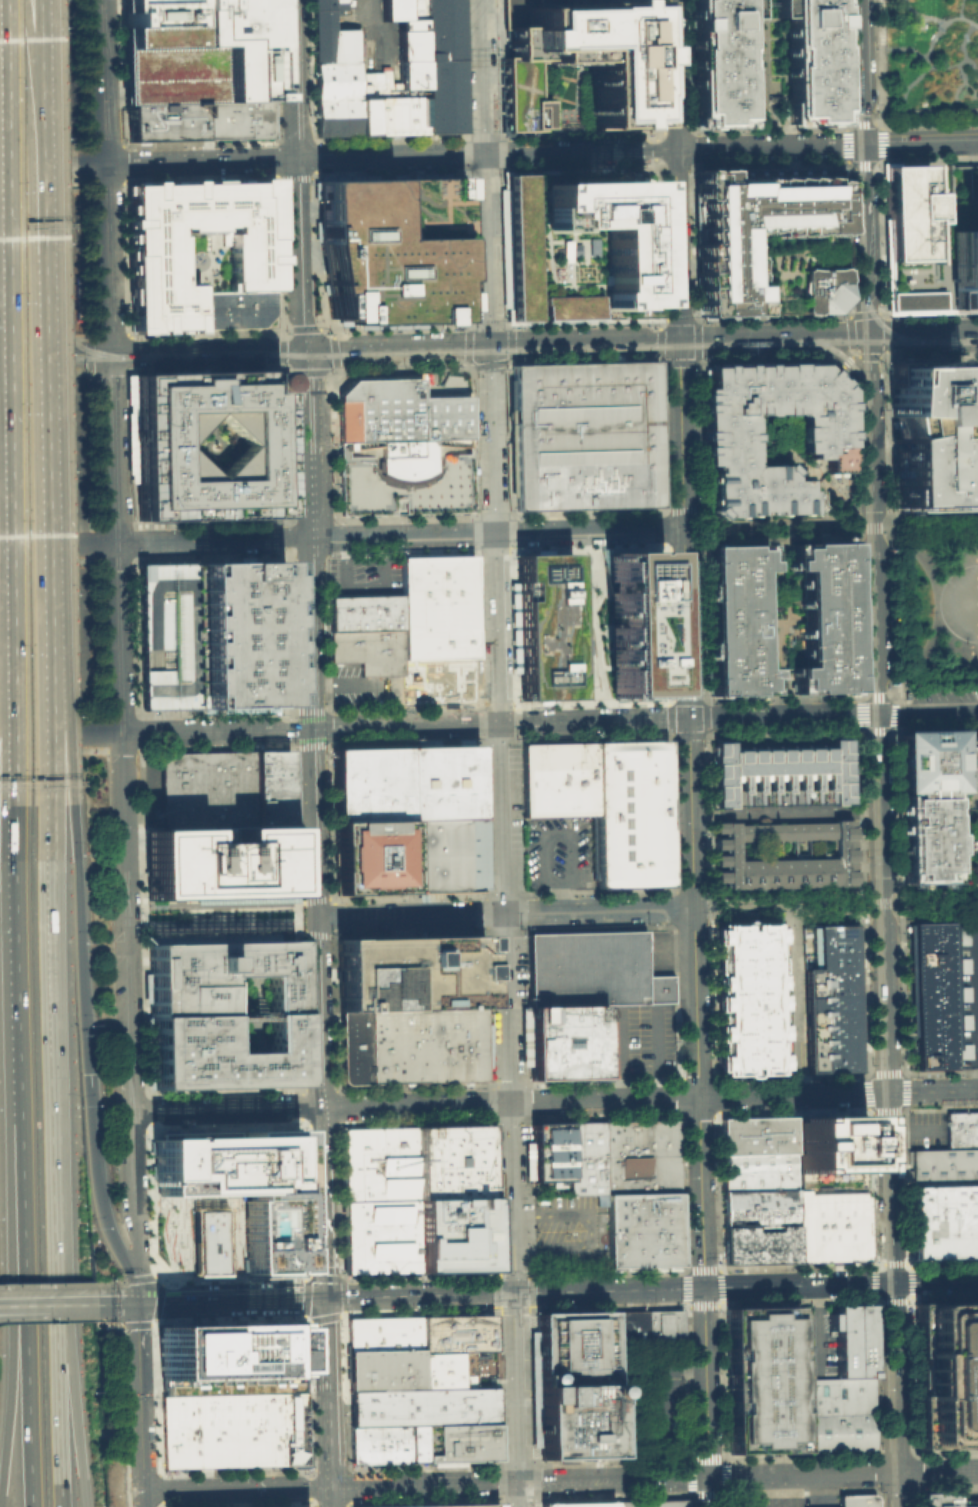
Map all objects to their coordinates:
building: (337, 0)
road: (961, 8)
building: (393, 9)
building: (412, 9)
road: (921, 15)
fountain: (921, 24)
building: (323, 30)
building: (345, 44)
road: (869, 48)
road: (904, 48)
road: (928, 50)
building: (195, 51)
road: (764, 54)
railway: (856, 56)
building: (410, 58)
road: (963, 59)
building: (811, 60)
building: (719, 62)
road: (28, 63)
road: (37, 63)
building: (575, 63)
road: (843, 63)
park: (926, 64)
road: (689, 65)
road: (99, 81)
building: (424, 82)
road: (961, 82)
building: (377, 83)
railway: (846, 86)
building: (336, 98)
road: (850, 103)
road: (773, 109)
road: (891, 115)
building: (234, 119)
road: (764, 120)
road: (863, 121)
road: (929, 121)
building: (162, 122)
road: (768, 129)
road: (672, 131)
road: (918, 132)
road: (311, 139)
road: (881, 142)
road: (845, 145)
road: (768, 146)
road: (691, 148)
road: (655, 149)
road: (919, 149)
road: (484, 154)
road: (198, 161)
railway: (74, 163)
road: (863, 163)
road: (90, 164)
road: (39, 165)
road: (673, 166)
road: (500, 170)
road: (483, 173)
road: (295, 174)
road: (276, 176)
road: (123, 178)
railway: (860, 199)
railway: (2, 202)
railway: (65, 227)
building: (769, 239)
building: (930, 241)
building: (579, 246)
building: (392, 248)
road: (105, 261)
building: (153, 263)
building: (237, 308)
road: (881, 315)
road: (696, 320)
road: (488, 324)
railway: (881, 324)
road: (303, 327)
road: (328, 328)
road: (107, 335)
traffic signals: (868, 337)
road: (733, 340)
railway: (949, 340)
road: (509, 341)
traffic signals: (679, 341)
railway: (858, 341)
railway: (864, 343)
railway: (25, 344)
road: (467, 346)
road: (280, 347)
traffic signals: (489, 347)
road: (394, 348)
traffic signals: (300, 350)
road: (334, 350)
road: (127, 351)
road: (204, 351)
railway: (398, 352)
road: (87, 353)
road: (54, 355)
road: (854, 356)
road: (931, 356)
road: (869, 357)
railway: (842, 358)
road: (845, 358)
railway: (408, 359)
road: (660, 359)
road: (679, 359)
road: (849, 359)
road: (458, 360)
road: (437, 363)
road: (491, 363)
road: (41, 366)
road: (283, 368)
road: (401, 369)
road: (107, 370)
road: (308, 372)
building: (401, 410)
road: (975, 423)
road: (784, 430)
building: (823, 432)
building: (583, 435)
building: (926, 437)
road: (491, 440)
road: (473, 441)
building: (154, 444)
road: (302, 444)
parking lot: (42, 445)
road: (333, 445)
road: (471, 450)
road: (336, 452)
road: (789, 452)
building: (404, 476)
road: (404, 482)
road: (838, 498)
road: (664, 509)
road: (511, 514)
road: (405, 517)
road: (794, 518)
road: (292, 519)
road: (701, 520)
road: (93, 525)
road: (918, 525)
road: (820, 527)
road: (834, 527)
road: (845, 527)
road: (786, 528)
road: (767, 529)
road: (717, 530)
road: (732, 530)
road: (398, 536)
road: (795, 536)
road: (57, 545)
road: (115, 545)
road: (0, 561)
parking lot: (364, 576)
road: (0, 584)
road: (363, 586)
road: (937, 605)
building: (437, 606)
road: (858, 606)
park: (936, 609)
building: (365, 613)
building: (824, 615)
building: (733, 618)
building: (634, 622)
road: (931, 623)
building: (544, 625)
road: (496, 629)
building: (240, 633)
road: (307, 633)
building: (167, 634)
parking lot: (167, 634)
parking lot: (48, 639)
building: (368, 650)
railway: (869, 651)
road: (865, 674)
building: (439, 679)
road: (370, 682)
parking lot: (363, 685)
road: (3, 691)
road: (704, 700)
road: (43, 704)
road: (54, 704)
road: (893, 705)
road: (860, 710)
road: (928, 713)
road: (782, 717)
road: (592, 721)
road: (891, 722)
road: (404, 725)
road: (215, 729)
road: (60, 733)
road: (515, 740)
road: (328, 744)
road: (100, 750)
building: (780, 773)
building: (559, 781)
building: (404, 783)
building: (270, 785)
building: (207, 787)
building: (928, 798)
road: (784, 812)
building: (632, 815)
road: (501, 818)
road: (134, 833)
road: (541, 834)
building: (843, 851)
parking lot: (561, 853)
building: (444, 855)
building: (369, 857)
building: (218, 860)
road: (929, 893)
road: (519, 894)
road: (835, 896)
street lamp: (862, 899)
road: (965, 900)
road: (899, 902)
road: (882, 903)
road: (708, 904)
road: (866, 904)
road: (751, 905)
street lamp: (818, 906)
road: (672, 908)
road: (929, 909)
road: (597, 910)
road: (835, 912)
road: (408, 915)
road: (296, 916)
road: (331, 916)
road: (314, 918)
road: (219, 919)
road: (125, 921)
building: (961, 934)
road: (48, 942)
road: (9, 943)
railway: (880, 953)
road: (504, 960)
building: (961, 963)
road: (976, 964)
building: (583, 968)
parking lot: (583, 968)
building: (410, 972)
building: (217, 974)
building: (656, 988)
building: (962, 991)
building: (931, 992)
building: (830, 996)
building: (745, 997)
road: (795, 999)
building: (963, 1019)
parking lot: (635, 1039)
building: (563, 1041)
road: (86, 1044)
building: (412, 1044)
building: (963, 1050)
building: (219, 1053)
road: (507, 1055)
road: (657, 1055)
traffic signals: (89, 1072)
road: (888, 1093)
road: (838, 1094)
road: (649, 1099)
road: (584, 1100)
road: (489, 1103)
road: (365, 1107)
road: (224, 1110)
road: (870, 1110)
road: (698, 1113)
road: (148, 1120)
building: (962, 1129)
road: (915, 1130)
parking lot: (928, 1130)
building: (757, 1133)
building: (830, 1142)
building: (549, 1151)
building: (640, 1156)
building: (586, 1158)
road: (510, 1159)
building: (451, 1161)
building: (378, 1163)
building: (944, 1167)
building: (758, 1170)
building: (831, 1178)
building: (239, 1187)
road: (872, 1189)
road: (129, 1194)
road: (149, 1201)
road: (57, 1202)
road: (321, 1203)
building: (759, 1207)
building: (944, 1221)
building: (832, 1225)
railway: (876, 1225)
road: (190, 1226)
building: (642, 1229)
parking lot: (570, 1231)
road: (604, 1231)
road: (512, 1233)
building: (453, 1234)
building: (380, 1236)
park: (174, 1241)
building: (210, 1241)
building: (760, 1243)
road: (879, 1243)
road: (886, 1265)
road: (512, 1272)
road: (879, 1274)
road: (143, 1275)
road: (10, 1277)
road: (315, 1277)
road: (233, 1279)
road: (107, 1282)
traffic signals: (893, 1283)
road: (46, 1284)
road: (160, 1286)
road: (745, 1286)
road: (305, 1287)
traffic signals: (703, 1288)
road: (135, 1290)
traffic signals: (514, 1293)
road: (22, 1294)
road: (418, 1295)
traffic signals: (324, 1298)
road: (229, 1300)
road: (70, 1304)
road: (115, 1304)
traffic signals: (135, 1304)
road: (22, 1305)
building: (663, 1328)
building: (627, 1329)
road: (816, 1329)
building: (456, 1332)
building: (842, 1339)
building: (862, 1340)
road: (136, 1344)
road: (325, 1344)
building: (572, 1347)
parking lot: (813, 1349)
building: (383, 1353)
building: (229, 1355)
road: (684, 1367)
building: (446, 1369)
building: (945, 1374)
building: (762, 1379)
road: (516, 1386)
building: (836, 1395)
parking lot: (646, 1400)
building: (421, 1406)
road: (326, 1409)
road: (75, 1413)
road: (58, 1414)
building: (574, 1419)
building: (231, 1428)
building: (837, 1432)
road: (665, 1436)
building: (458, 1441)
building: (386, 1443)
road: (139, 1446)
road: (327, 1456)
road: (937, 1470)
road: (707, 1476)
road: (470, 1482)
road: (375, 1484)
traffic signals: (329, 1486)
road: (234, 1487)
road: (897, 1489)
road: (129, 1490)
road: (59, 1492)
road: (879, 1492)
road: (518, 1493)
road: (329, 1496)
road: (537, 1498)
road: (881, 1499)
building: (940, 1499)
building: (856, 1500)
parking lot: (772, 1501)
parking lot: (819, 1501)
building: (736, 1502)
building: (651, 1503)
building: (579, 1504)
building: (448, 1505)

